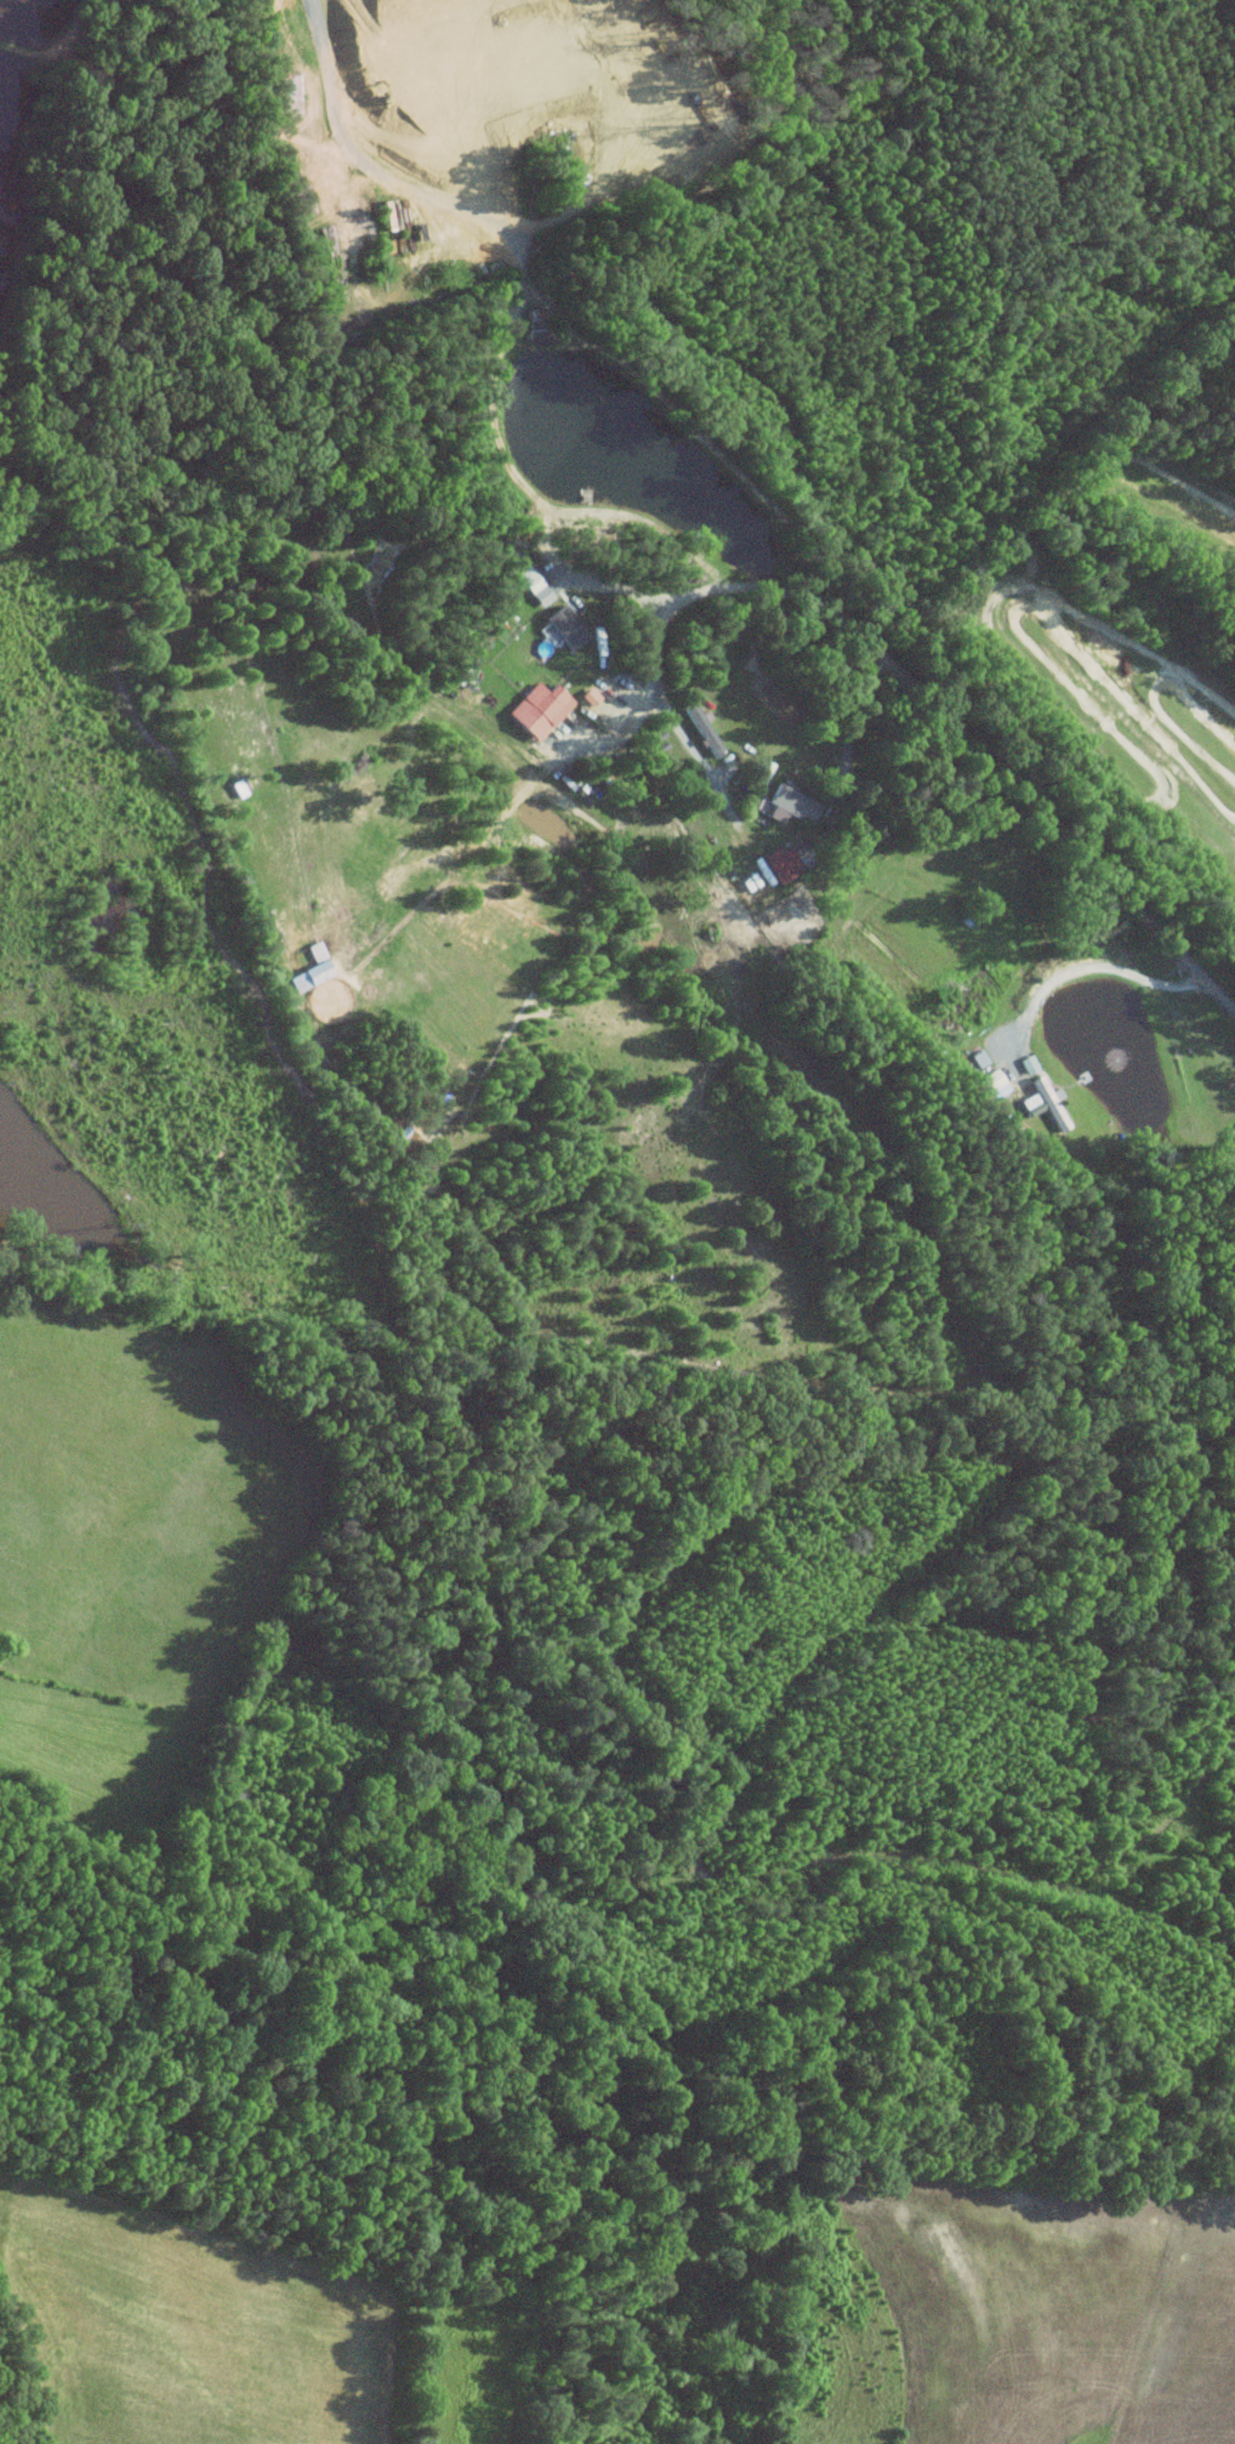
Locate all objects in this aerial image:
building: (285, 95)
road: (523, 272)
building: (531, 323)
building: (533, 586)
road: (620, 589)
building: (564, 627)
road: (907, 681)
building: (539, 710)
building: (701, 729)
road: (529, 781)
building: (792, 808)
building: (780, 865)
building: (314, 953)
road: (1087, 967)
building: (308, 977)
building: (977, 1058)
building: (1026, 1063)
building: (990, 1080)
building: (1049, 1103)
building: (1032, 1108)

